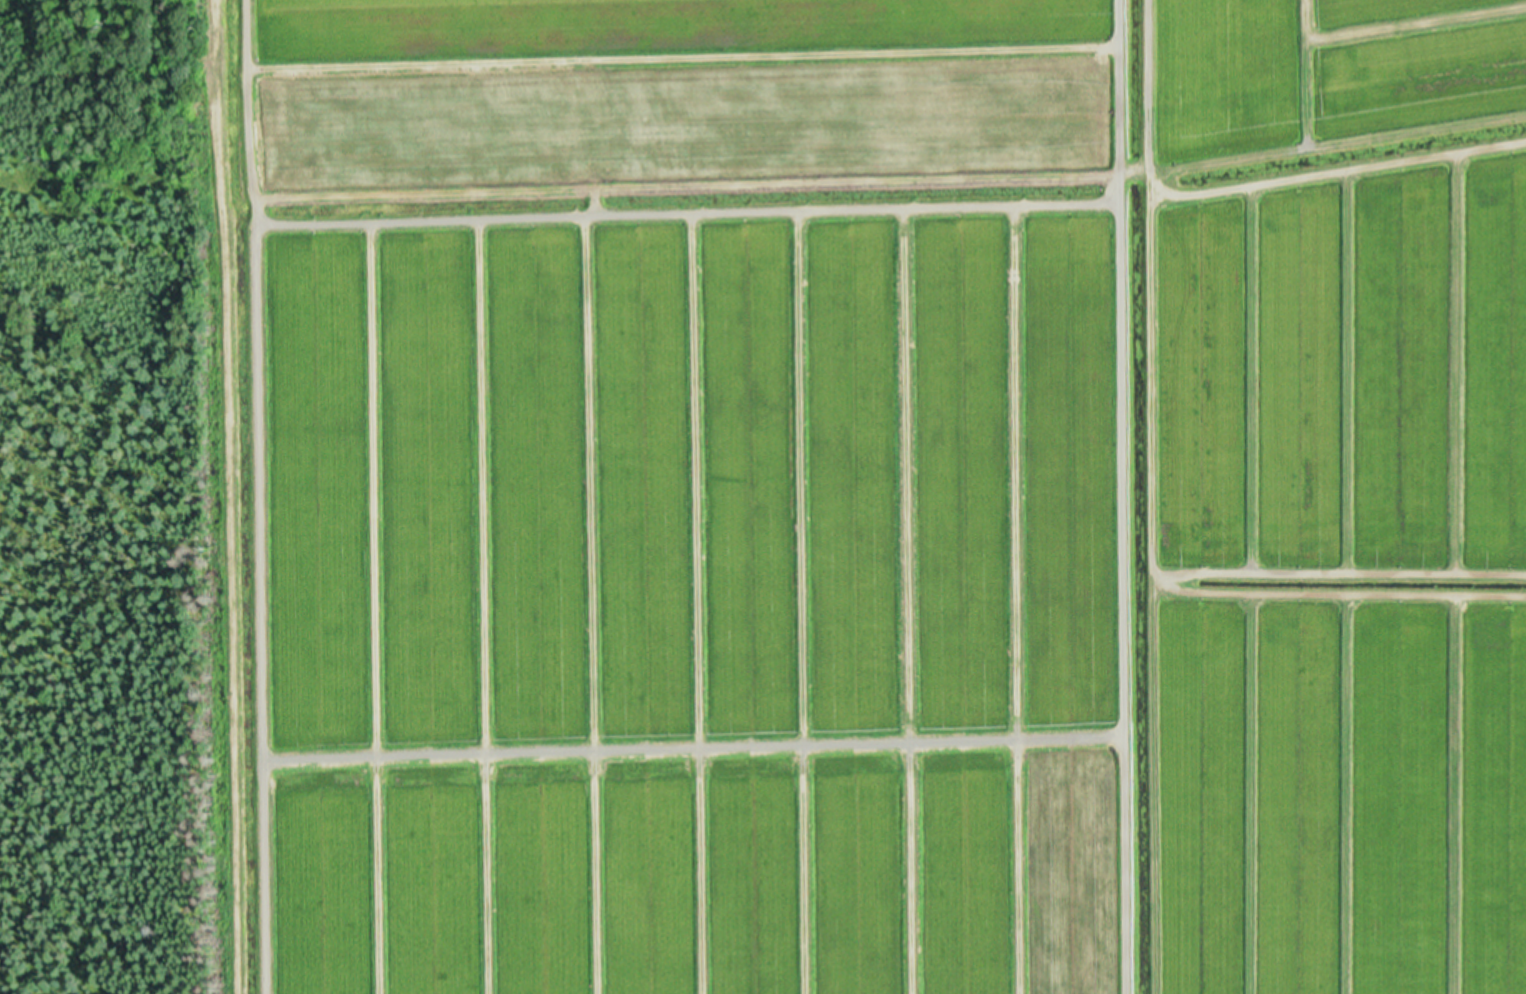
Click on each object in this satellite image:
crop: (878, 496)

